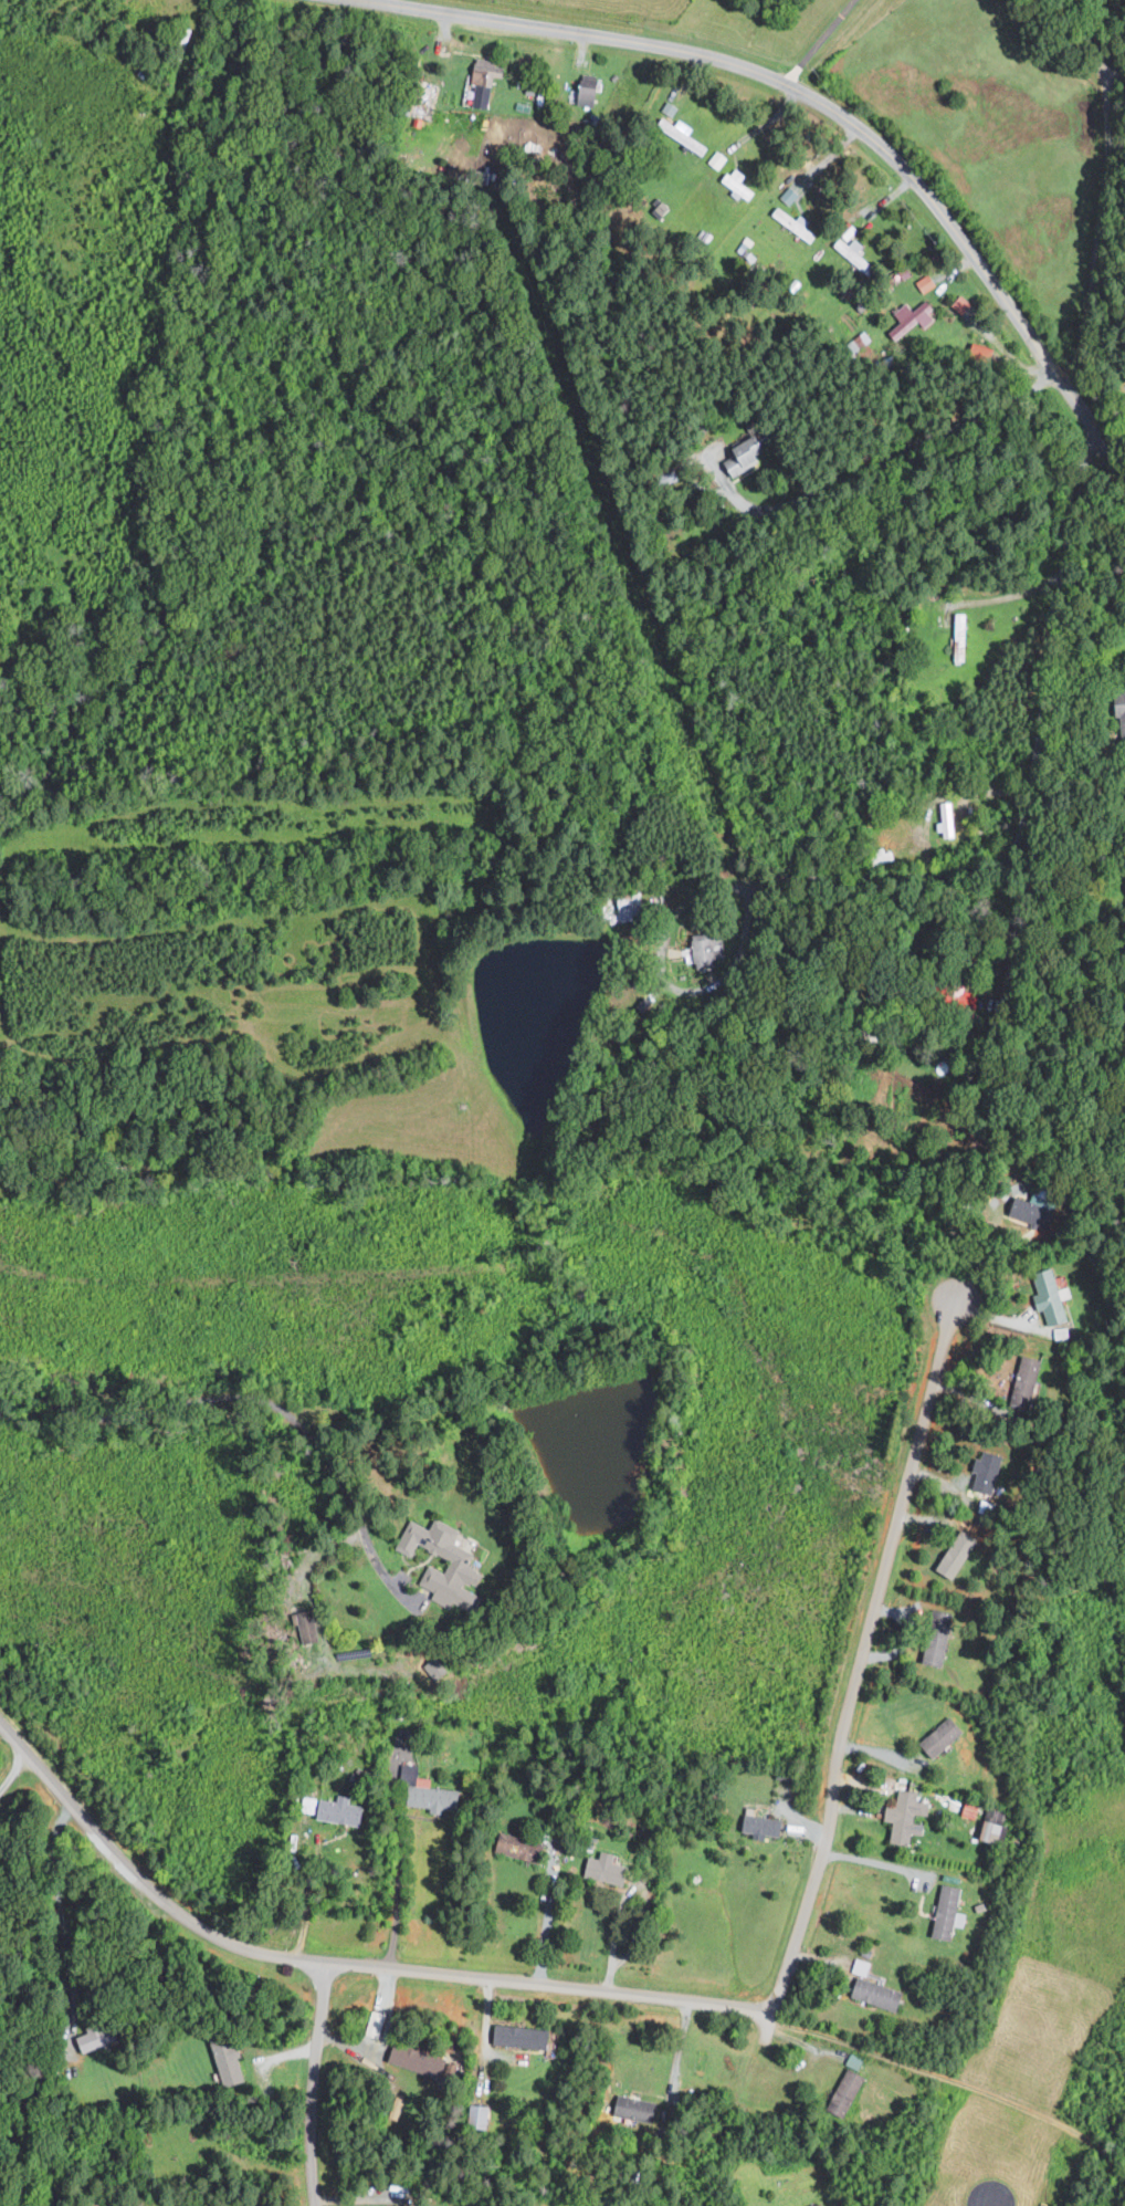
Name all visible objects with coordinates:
road: (820, 42)
building: (487, 81)
building: (590, 90)
road: (820, 103)
building: (670, 108)
building: (688, 136)
building: (739, 184)
road: (1098, 226)
building: (927, 282)
building: (964, 304)
building: (913, 317)
building: (746, 454)
road: (880, 458)
building: (963, 630)
road: (1049, 665)
road: (1097, 788)
road: (696, 892)
road: (1010, 917)
building: (701, 954)
road: (977, 1253)
building: (1054, 1301)
building: (1030, 1377)
road: (234, 1398)
building: (990, 1473)
building: (954, 1565)
building: (462, 1566)
building: (937, 1655)
road: (861, 1660)
building: (943, 1737)
road: (13, 1770)
building: (429, 1790)
building: (345, 1810)
building: (970, 1810)
building: (907, 1816)
building: (765, 1825)
building: (992, 1830)
building: (524, 1847)
road: (881, 1864)
road: (313, 1868)
building: (609, 1870)
road: (399, 1884)
building: (949, 1912)
road: (545, 1921)
road: (609, 1935)
road: (338, 1964)
building: (862, 1966)
building: (880, 1994)
building: (378, 2022)
building: (524, 2036)
building: (96, 2037)
road: (6, 2042)
road: (677, 2048)
building: (230, 2059)
building: (420, 2059)
building: (855, 2061)
road: (311, 2083)
road: (959, 2083)
building: (848, 2090)
building: (638, 2109)
building: (482, 2115)
road: (39, 2143)
airport runway: (995, 2202)
building: (820, 2204)
building: (169, 2205)

